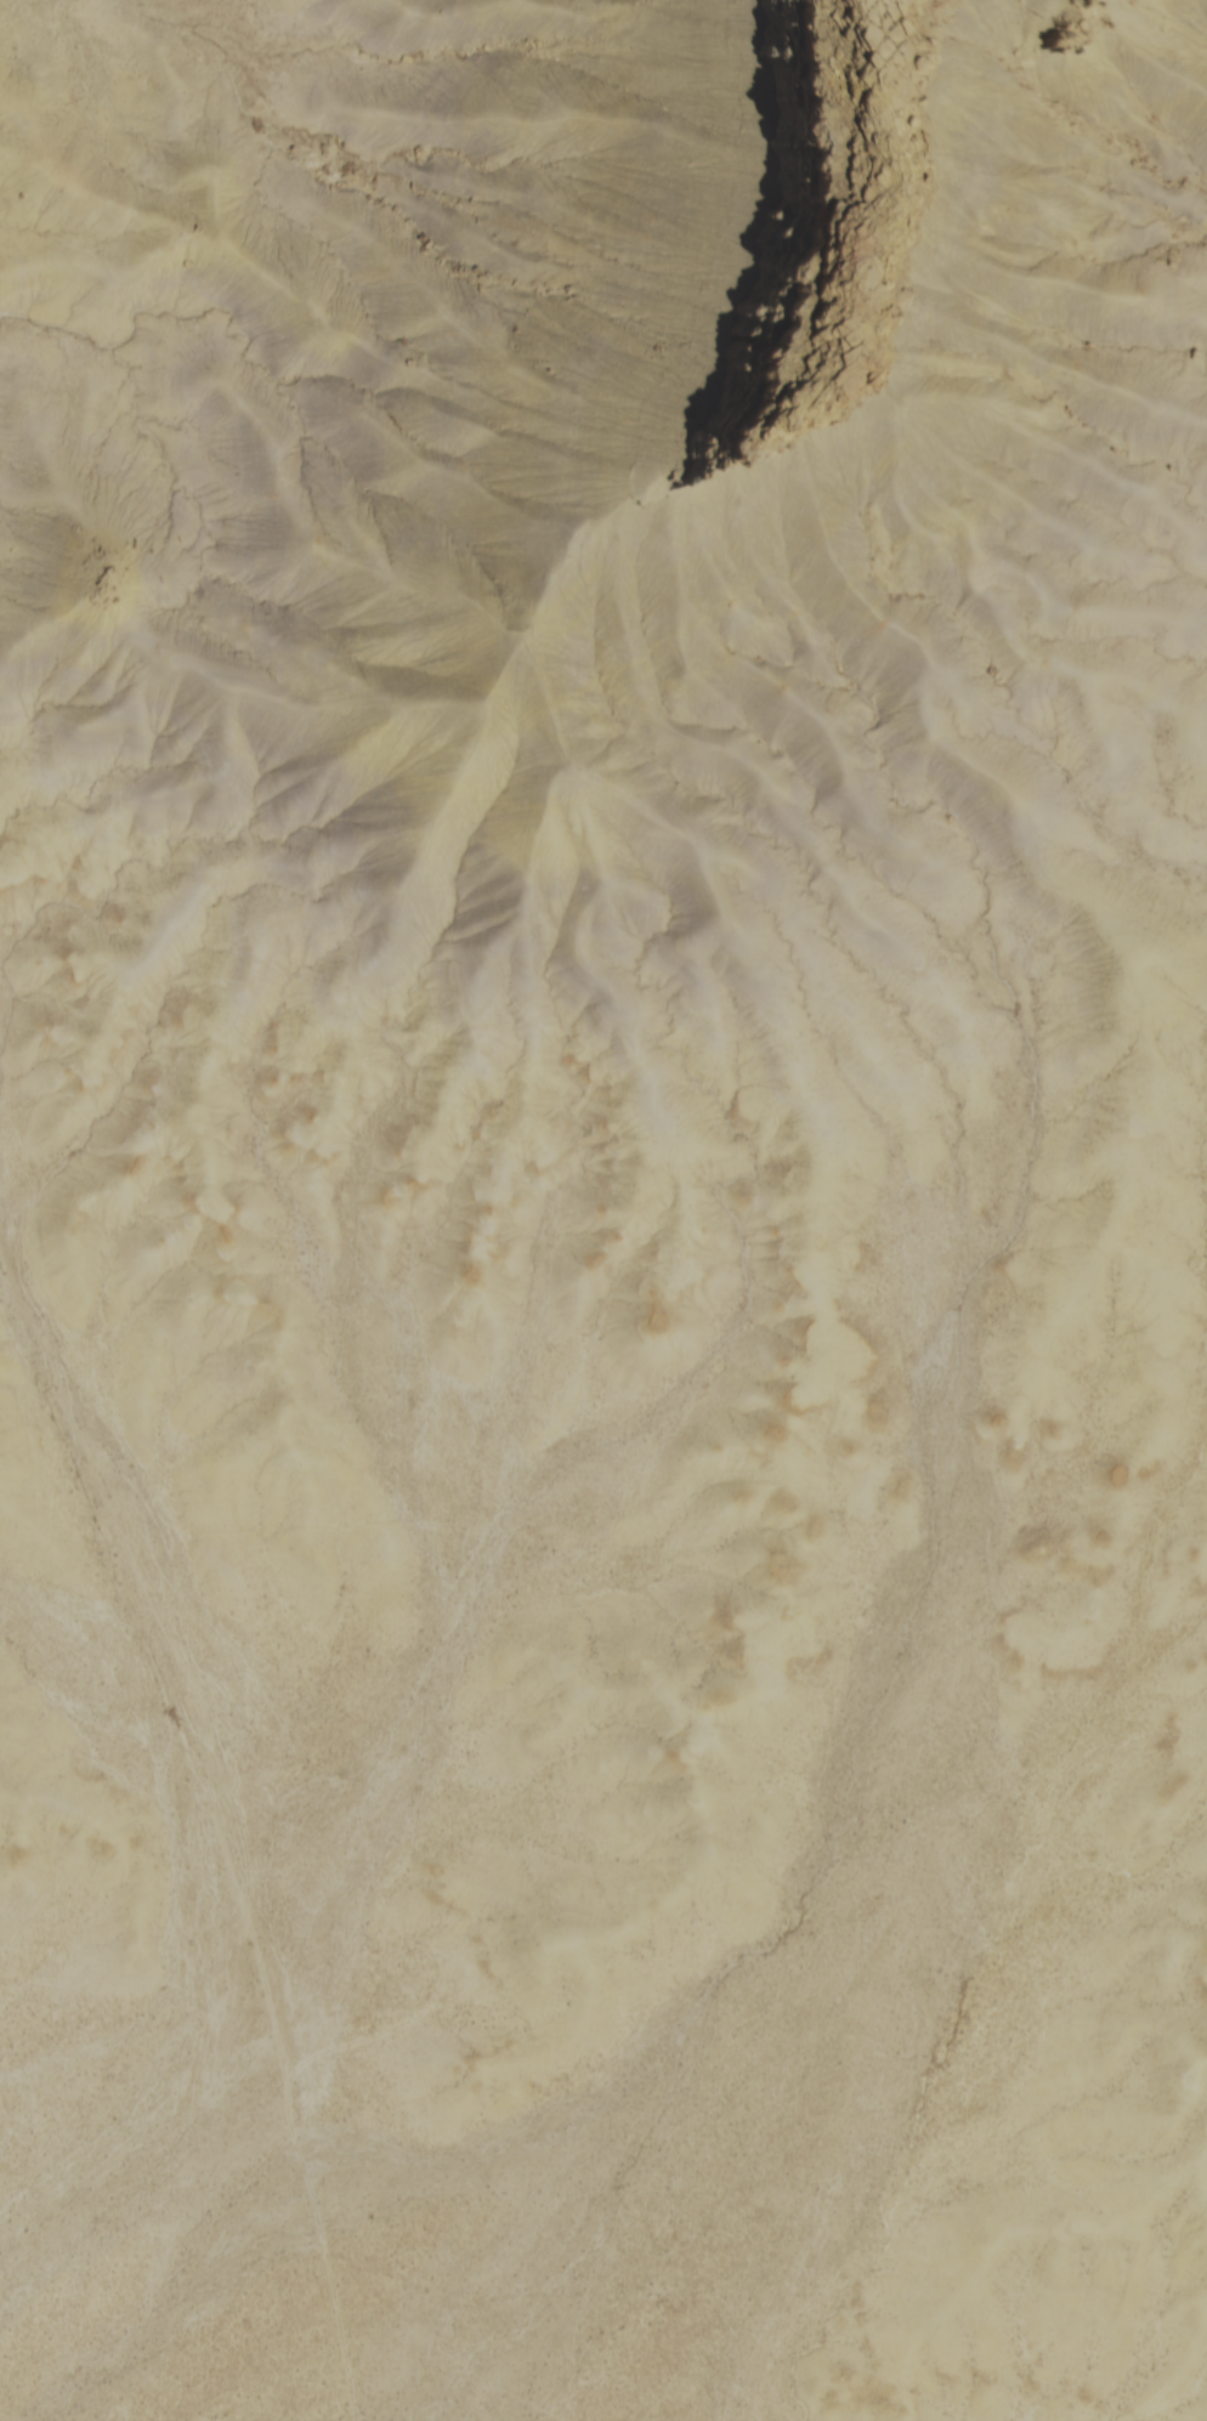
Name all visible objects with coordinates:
road: (220, 1815)

